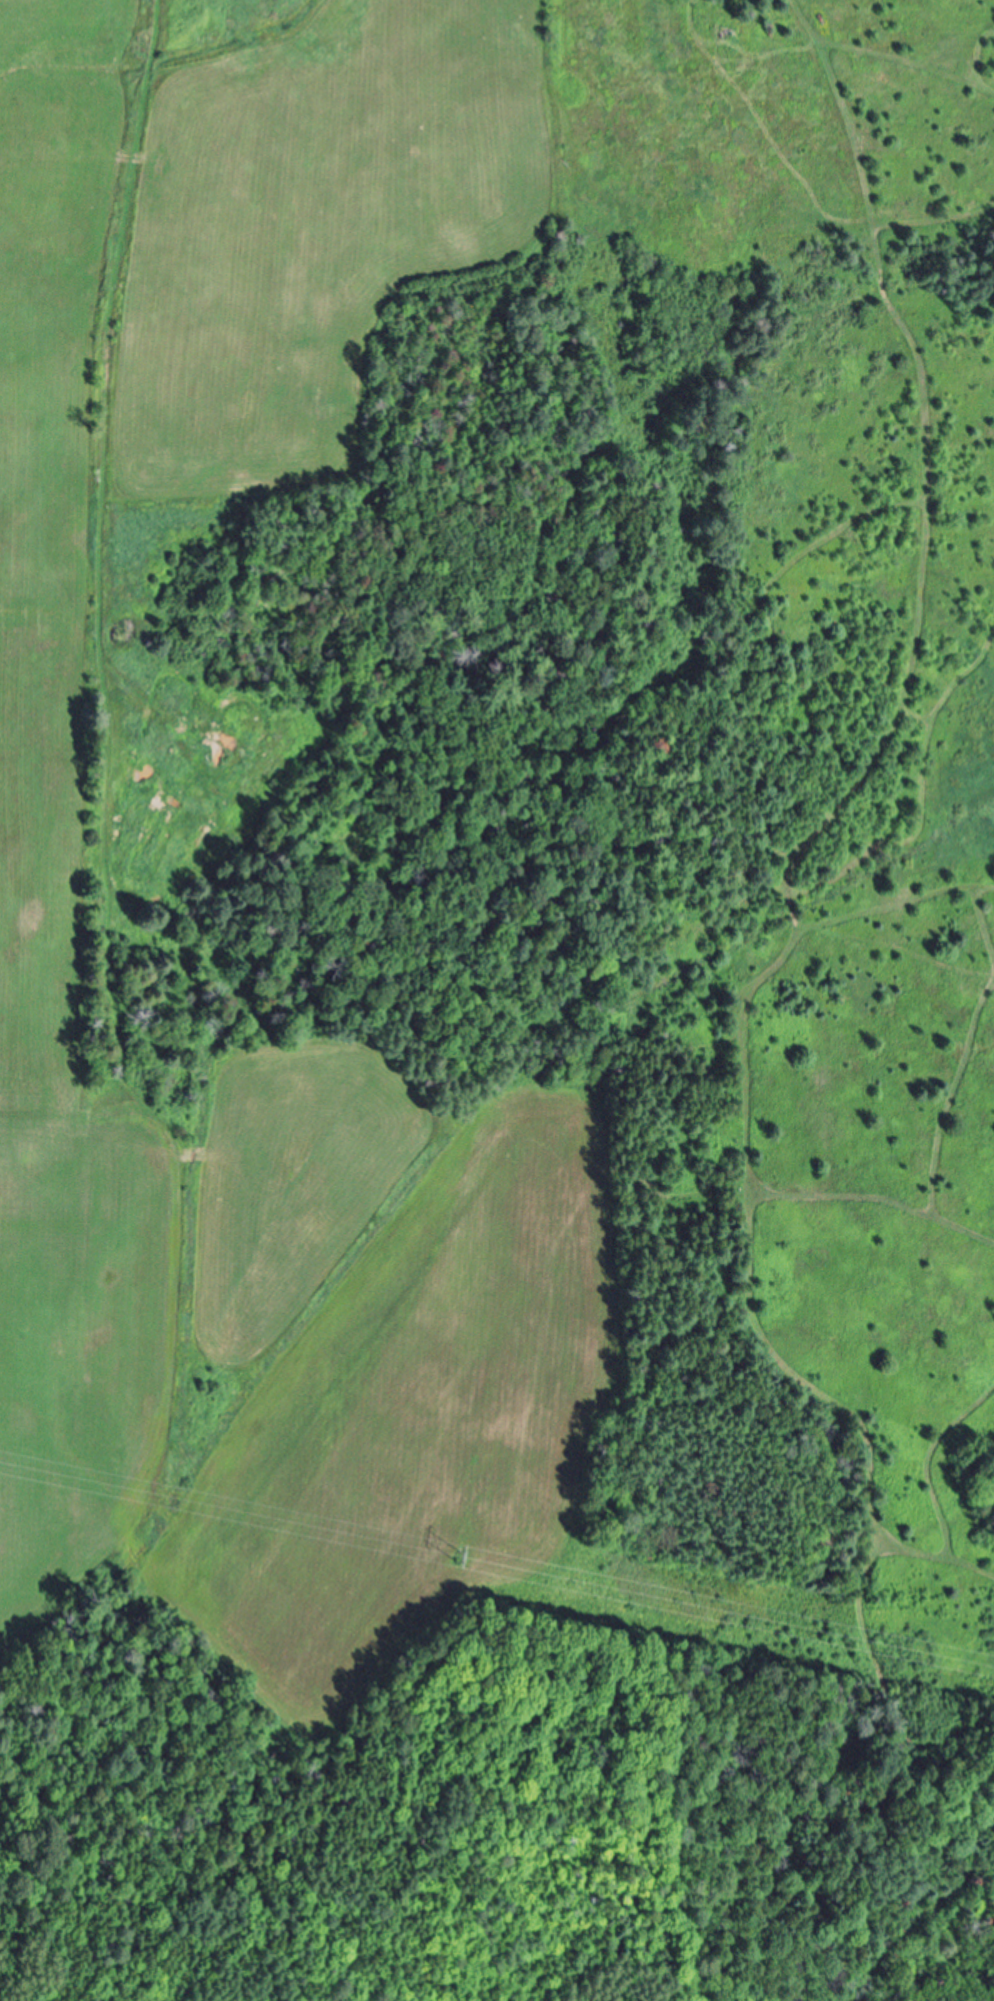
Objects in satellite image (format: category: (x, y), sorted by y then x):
power tower: (462, 1559)

